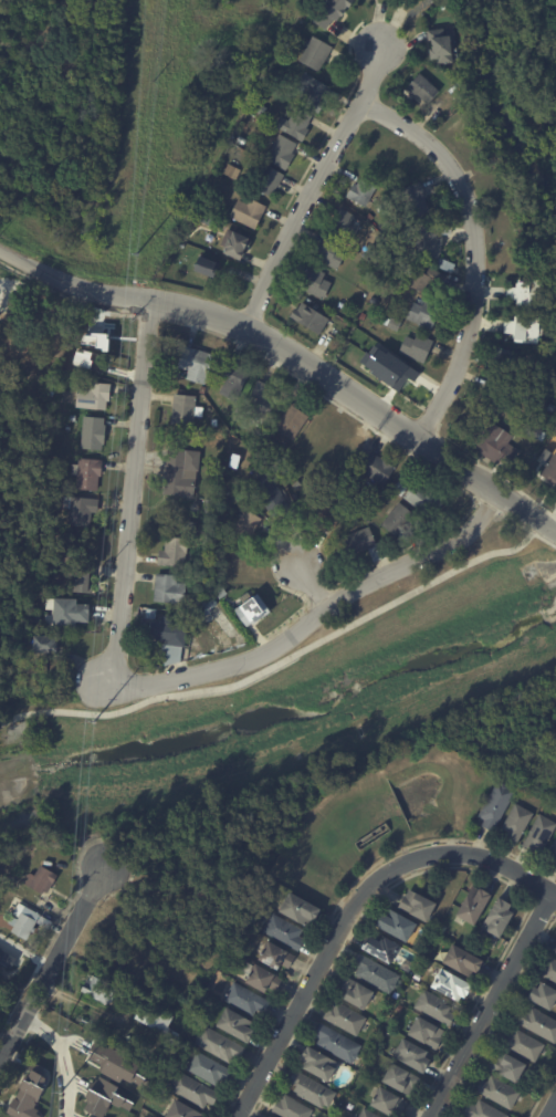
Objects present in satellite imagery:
building: (333, 11)
road: (354, 39)
building: (442, 46)
building: (317, 53)
building: (424, 86)
building: (314, 92)
building: (461, 96)
building: (260, 111)
road: (336, 115)
building: (298, 124)
building: (284, 152)
building: (496, 156)
building: (234, 171)
building: (502, 175)
building: (271, 181)
road: (312, 185)
building: (364, 192)
building: (507, 194)
building: (417, 200)
building: (251, 212)
building: (370, 217)
building: (348, 223)
building: (409, 232)
building: (437, 244)
building: (240, 246)
building: (182, 247)
road: (475, 250)
building: (333, 253)
building: (207, 267)
building: (430, 282)
building: (318, 283)
building: (527, 292)
road: (64, 296)
building: (528, 307)
building: (424, 314)
building: (363, 316)
road: (148, 317)
building: (312, 319)
building: (524, 323)
building: (396, 324)
building: (418, 347)
road: (294, 355)
building: (543, 361)
building: (507, 362)
building: (197, 365)
building: (237, 379)
building: (55, 388)
building: (203, 389)
building: (96, 396)
building: (500, 398)
building: (264, 400)
building: (553, 408)
building: (187, 410)
building: (295, 420)
building: (217, 422)
building: (95, 432)
building: (538, 432)
building: (193, 437)
building: (181, 439)
building: (255, 440)
building: (496, 441)
building: (263, 445)
building: (274, 450)
building: (548, 456)
building: (272, 463)
building: (378, 469)
road: (433, 470)
building: (552, 470)
road: (491, 471)
building: (183, 472)
building: (90, 473)
building: (409, 478)
building: (297, 484)
building: (401, 489)
road: (130, 491)
building: (274, 495)
building: (429, 500)
road: (486, 505)
building: (82, 510)
building: (327, 514)
building: (401, 519)
building: (356, 520)
building: (250, 524)
building: (191, 526)
building: (227, 529)
building: (206, 530)
road: (527, 530)
building: (359, 542)
building: (74, 552)
building: (176, 553)
building: (88, 555)
building: (82, 583)
road: (311, 585)
road: (315, 587)
building: (171, 589)
road: (292, 592)
building: (251, 609)
building: (74, 614)
building: (154, 614)
road: (315, 614)
building: (214, 617)
building: (145, 623)
building: (208, 631)
building: (171, 634)
building: (198, 634)
building: (46, 646)
road: (305, 648)
building: (170, 653)
road: (28, 713)
road: (10, 718)
building: (499, 805)
building: (520, 823)
building: (541, 835)
building: (554, 848)
building: (555, 860)
road: (451, 867)
building: (1, 876)
building: (43, 880)
building: (232, 884)
road: (339, 900)
building: (182, 904)
building: (158, 905)
building: (421, 906)
building: (476, 906)
road: (350, 909)
building: (303, 910)
road: (542, 910)
building: (501, 916)
building: (25, 920)
building: (253, 920)
building: (399, 925)
building: (443, 929)
road: (55, 930)
building: (286, 932)
building: (209, 941)
building: (480, 941)
building: (385, 948)
building: (555, 952)
building: (277, 957)
building: (10, 958)
road: (50, 959)
building: (464, 959)
building: (550, 968)
building: (249, 969)
building: (377, 973)
building: (419, 977)
building: (264, 979)
building: (452, 984)
building: (98, 989)
building: (358, 993)
building: (546, 996)
building: (248, 1000)
road: (490, 1004)
building: (400, 1009)
building: (438, 1009)
building: (156, 1016)
road: (499, 1016)
building: (347, 1019)
building: (96, 1022)
building: (538, 1023)
building: (239, 1025)
building: (104, 1026)
building: (428, 1032)
building: (339, 1043)
building: (138, 1044)
building: (221, 1044)
building: (526, 1044)
building: (114, 1052)
building: (165, 1053)
road: (61, 1056)
building: (416, 1056)
building: (319, 1063)
building: (511, 1066)
building: (211, 1068)
building: (134, 1074)
building: (401, 1078)
building: (196, 1089)
building: (313, 1089)
road: (542, 1090)
building: (501, 1092)
building: (28, 1093)
building: (103, 1097)
building: (134, 1097)
building: (391, 1103)
building: (294, 1107)
road: (550, 1108)
building: (185, 1110)
building: (483, 1110)
building: (369, 1114)
building: (521, 1114)

